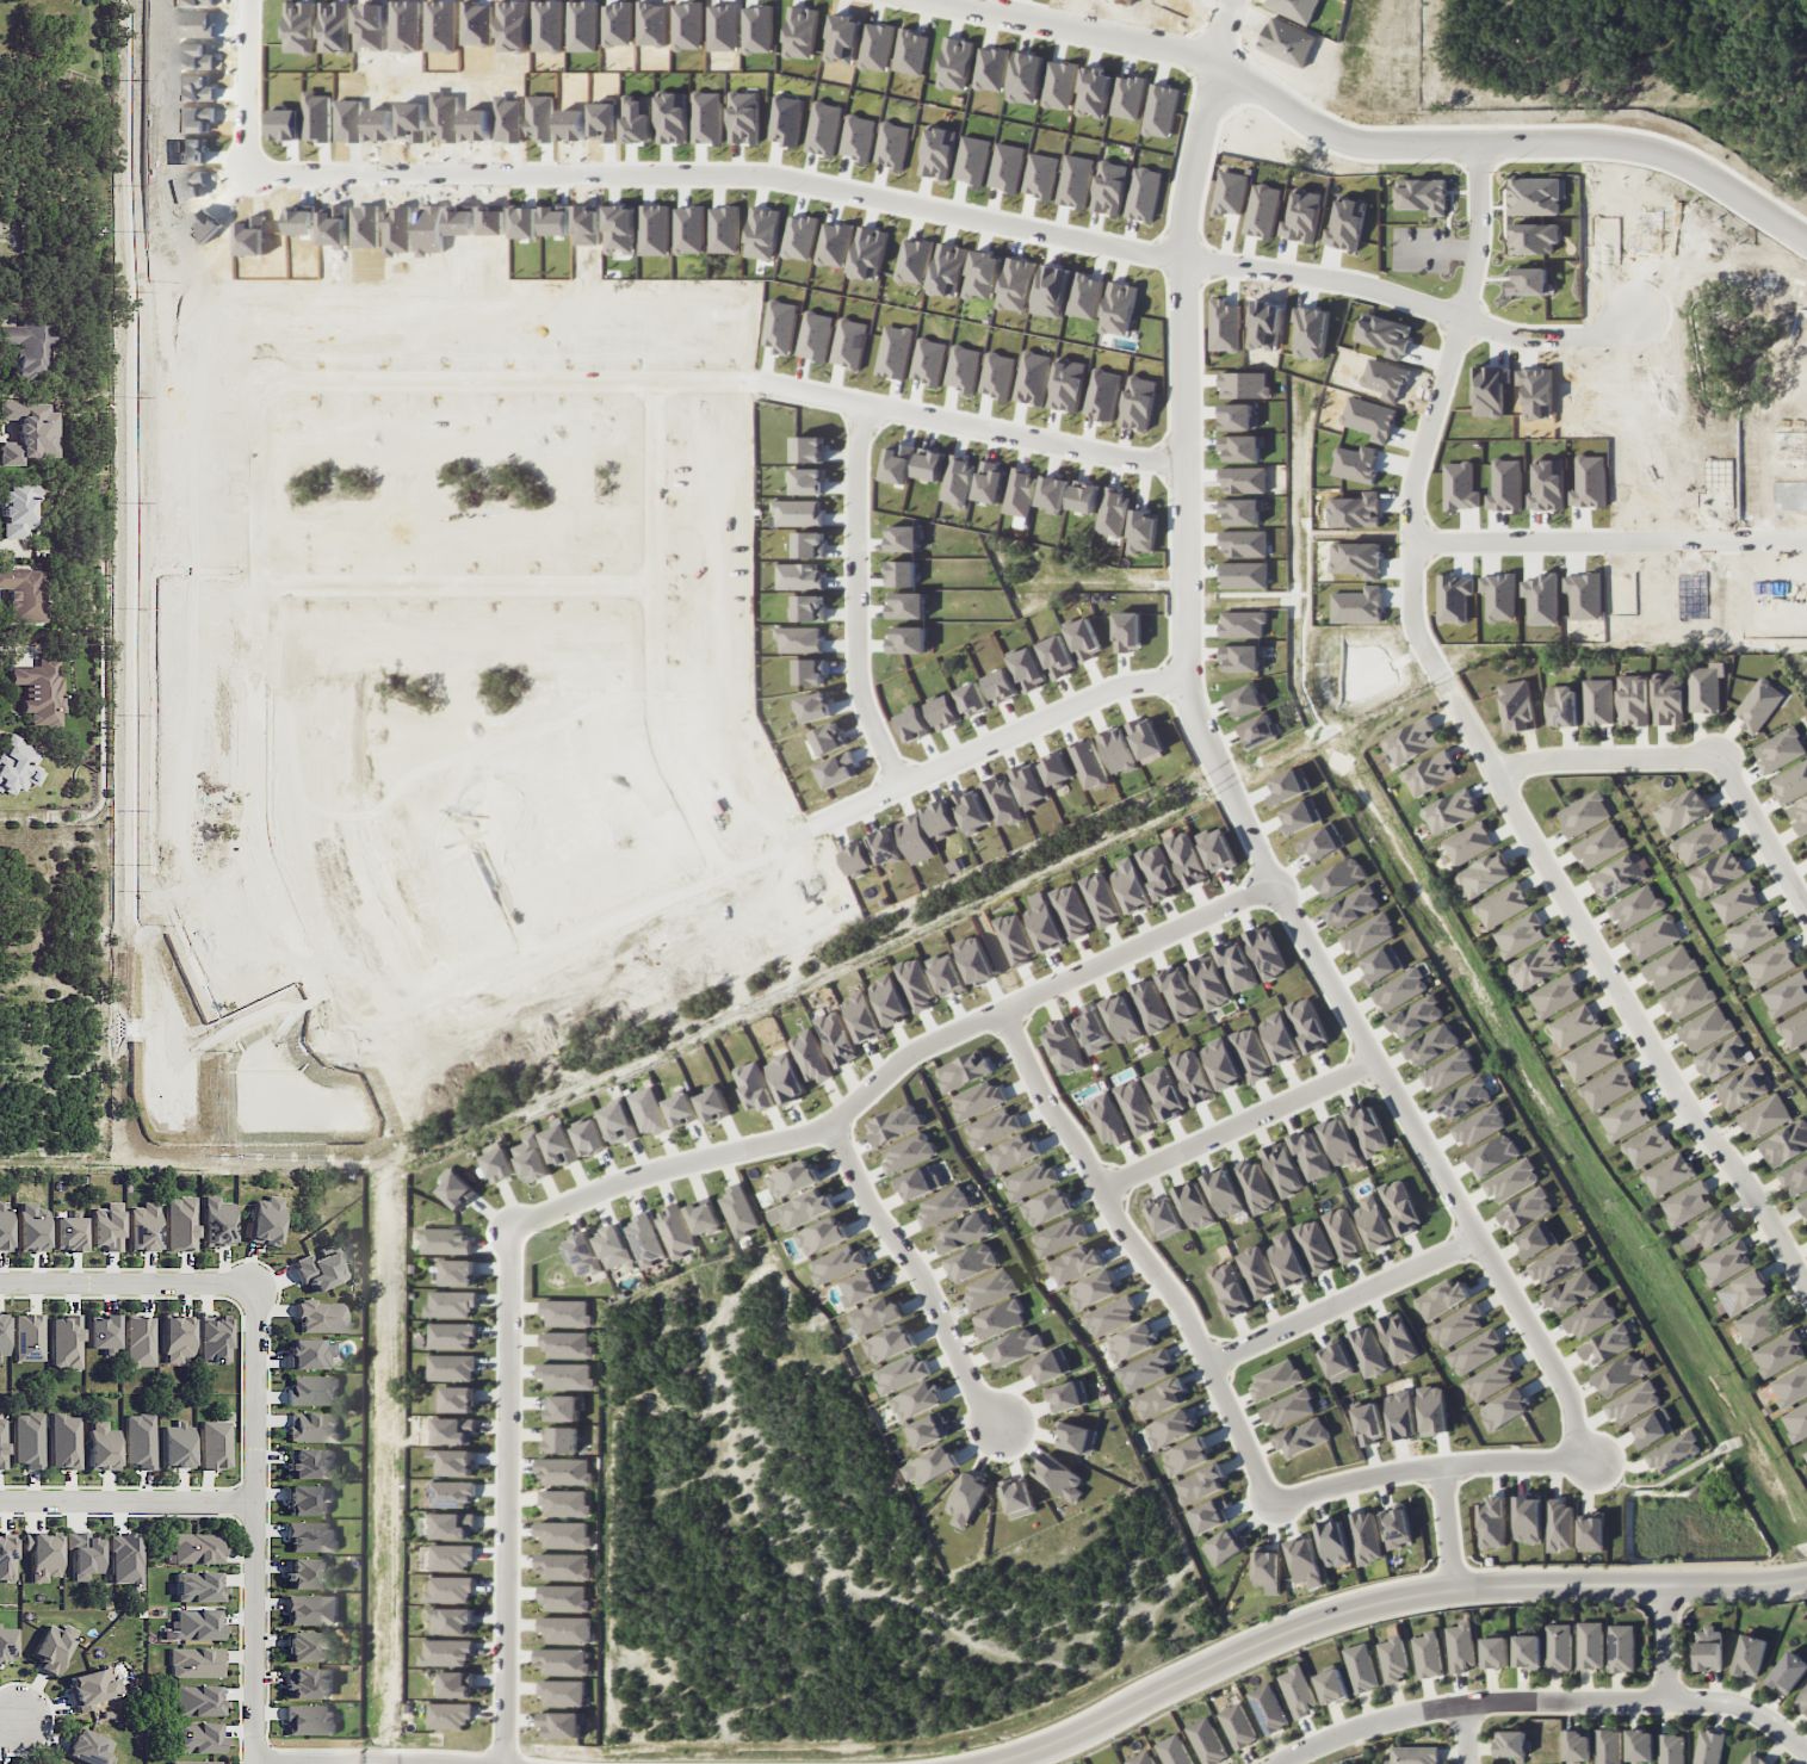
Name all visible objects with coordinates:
road: (1072, 26)
road: (1231, 42)
road: (255, 91)
road: (1517, 147)
road: (724, 175)
road: (1416, 304)
building: (30, 347)
road: (567, 379)
road: (1441, 415)
building: (30, 431)
road: (1031, 435)
road: (1187, 488)
building: (18, 509)
road: (1616, 547)
building: (24, 593)
road: (728, 596)
road: (864, 602)
road: (502, 617)
building: (1706, 687)
building: (39, 691)
building: (1667, 699)
building: (1633, 700)
building: (1598, 701)
building: (1561, 705)
building: (1759, 705)
building: (1517, 706)
road: (1052, 717)
building: (1411, 741)
building: (1778, 750)
road: (1607, 759)
building: (18, 766)
building: (1429, 773)
building: (1790, 782)
building: (1449, 811)
building: (1683, 811)
building: (1583, 813)
building: (1799, 815)
road: (1763, 830)
building: (1806, 841)
building: (1701, 842)
building: (1468, 843)
building: (1599, 846)
building: (1186, 859)
building: (1157, 871)
building: (1718, 872)
building: (1484, 874)
building: (1620, 875)
building: (1333, 878)
building: (1130, 886)
building: (1100, 898)
building: (1738, 902)
building: (1502, 904)
building: (1353, 906)
building: (1635, 906)
building: (1070, 910)
building: (1044, 927)
building: (1753, 933)
building: (1367, 934)
building: (1520, 935)
building: (1653, 936)
building: (1014, 939)
building: (1265, 952)
building: (973, 959)
building: (1771, 964)
building: (1236, 965)
building: (1379, 965)
building: (1537, 965)
building: (1670, 967)
building: (946, 974)
building: (1208, 982)
building: (915, 984)
building: (1400, 989)
road: (1619, 989)
building: (1178, 992)
building: (1787, 995)
building: (1555, 996)
building: (1688, 998)
building: (887, 999)
building: (1150, 1005)
building: (861, 1016)
building: (1416, 1016)
building: (1121, 1019)
building: (1306, 1025)
building: (1573, 1026)
building: (1093, 1028)
building: (1704, 1028)
building: (1795, 1028)
building: (836, 1038)
building: (1279, 1038)
building: (1431, 1044)
building: (1064, 1047)
building: (1250, 1053)
building: (1805, 1054)
building: (810, 1056)
building: (1590, 1057)
building: (1725, 1058)
building: (1220, 1063)
road: (896, 1064)
building: (963, 1070)
building: (1448, 1071)
building: (1192, 1076)
building: (785, 1078)
building: (754, 1087)
building: (1608, 1087)
building: (1743, 1088)
building: (1164, 1093)
building: (1465, 1098)
building: (977, 1100)
building: (713, 1104)
building: (1135, 1106)
building: (680, 1109)
building: (646, 1110)
building: (1764, 1116)
building: (1626, 1118)
building: (1107, 1119)
building: (618, 1122)
building: (895, 1124)
road: (1238, 1125)
building: (1480, 1126)
building: (991, 1127)
building: (1367, 1128)
building: (589, 1137)
building: (1338, 1141)
building: (1786, 1144)
building: (558, 1145)
building: (1646, 1145)
building: (908, 1152)
building: (1011, 1153)
building: (1310, 1155)
building: (1492, 1155)
building: (531, 1158)
building: (499, 1165)
road: (1440, 1166)
building: (1281, 1169)
building: (1669, 1174)
building: (1795, 1176)
building: (793, 1178)
building: (1029, 1180)
building: (1511, 1180)
building: (916, 1182)
building: (1254, 1184)
building: (456, 1188)
building: (1224, 1193)
building: (1687, 1203)
building: (1194, 1205)
building: (1803, 1205)
building: (943, 1206)
building: (1400, 1206)
building: (1045, 1207)
building: (806, 1208)
building: (1526, 1209)
building: (738, 1211)
building: (704, 1217)
building: (1164, 1218)
building: (265, 1220)
building: (216, 1221)
building: (1373, 1221)
building: (4, 1224)
building: (180, 1224)
building: (31, 1226)
building: (143, 1227)
building: (106, 1228)
building: (1714, 1228)
building: (675, 1231)
building: (963, 1232)
building: (68, 1233)
building: (1343, 1233)
building: (821, 1236)
building: (1058, 1236)
building: (645, 1239)
building: (445, 1240)
building: (1534, 1240)
building: (1314, 1245)
building: (613, 1246)
road: (1140, 1252)
building: (582, 1254)
building: (1287, 1261)
building: (972, 1262)
building: (1726, 1262)
building: (836, 1263)
building: (1557, 1263)
building: (1073, 1264)
building: (320, 1267)
building: (1256, 1271)
building: (458, 1273)
road: (917, 1274)
building: (859, 1288)
building: (990, 1288)
building: (1093, 1289)
building: (1230, 1289)
building: (1571, 1292)
building: (1744, 1292)
building: (1441, 1299)
road: (1345, 1300)
building: (451, 1304)
building: (565, 1313)
building: (875, 1314)
building: (321, 1316)
building: (1109, 1316)
building: (1590, 1318)
building: (1001, 1319)
building: (1759, 1323)
building: (1458, 1325)
building: (101, 1333)
building: (2, 1336)
building: (452, 1336)
building: (27, 1337)
building: (1397, 1337)
building: (175, 1338)
building: (138, 1341)
building: (212, 1341)
building: (64, 1342)
building: (1131, 1342)
building: (889, 1343)
building: (567, 1344)
building: (1607, 1345)
building: (1015, 1347)
building: (1367, 1351)
building: (1474, 1353)
building: (1778, 1353)
building: (309, 1354)
building: (1336, 1361)
building: (1046, 1366)
building: (451, 1367)
building: (1144, 1370)
building: (901, 1373)
building: (1621, 1374)
building: (565, 1375)
building: (1490, 1379)
building: (1275, 1380)
building: (1789, 1386)
building: (311, 1391)
road: (253, 1395)
building: (1066, 1395)
building: (1159, 1398)
building: (454, 1399)
building: (915, 1401)
building: (1633, 1401)
building: (562, 1407)
building: (1288, 1409)
building: (1504, 1409)
building: (1432, 1410)
building: (1796, 1421)
building: (1368, 1423)
building: (312, 1426)
building: (1652, 1428)
building: (1169, 1429)
building: (454, 1430)
building: (926, 1431)
building: (1075, 1437)
building: (1304, 1437)
building: (27, 1440)
building: (138, 1440)
building: (561, 1440)
building: (64, 1441)
building: (2, 1443)
building: (214, 1444)
building: (101, 1446)
building: (175, 1446)
building: (1673, 1452)
building: (1806, 1453)
building: (456, 1462)
building: (309, 1463)
building: (930, 1466)
road: (1423, 1468)
building: (564, 1471)
building: (1059, 1477)
building: (452, 1493)
road: (510, 1494)
road: (126, 1496)
building: (1017, 1497)
building: (309, 1499)
building: (966, 1499)
building: (565, 1503)
building: (1528, 1519)
building: (1492, 1522)
building: (1559, 1524)
building: (452, 1525)
building: (1396, 1528)
road: (1447, 1528)
building: (564, 1534)
building: (1591, 1534)
building: (310, 1536)
building: (1364, 1537)
building: (1332, 1543)
building: (1221, 1547)
building: (194, 1548)
building: (42, 1554)
building: (82, 1554)
building: (452, 1556)
building: (6, 1558)
building: (125, 1559)
building: (1305, 1561)
building: (563, 1566)
building: (1267, 1568)
building: (307, 1573)
building: (198, 1586)
building: (450, 1589)
building: (564, 1598)
road: (1381, 1601)
building: (311, 1609)
building: (452, 1620)
building: (192, 1624)
building: (565, 1629)
building: (6, 1644)
building: (1590, 1645)
road: (1666, 1645)
building: (307, 1646)
building: (1460, 1646)
building: (1558, 1647)
building: (1621, 1647)
building: (50, 1648)
building: (1708, 1648)
building: (1527, 1651)
building: (447, 1652)
building: (1493, 1653)
building: (1427, 1654)
building: (1749, 1655)
building: (1393, 1657)
building: (562, 1660)
building: (194, 1663)
building: (1360, 1667)
building: (1788, 1672)
building: (308, 1683)
building: (456, 1684)
building: (1331, 1686)
building: (92, 1688)
building: (1298, 1690)
building: (562, 1692)
building: (197, 1700)
building: (1801, 1700)
road: (1548, 1703)
building: (1267, 1708)
building: (450, 1715)
road: (5, 1717)
building: (310, 1720)
building: (559, 1723)
building: (1238, 1726)
road: (1466, 1735)
building: (196, 1738)
building: (1206, 1741)
building: (1511, 1743)
building: (1639, 1745)
building: (87, 1746)
building: (1576, 1746)
building: (1608, 1746)
building: (1708, 1747)
building: (1671, 1748)
building: (1172, 1751)
building: (1413, 1754)
building: (1141, 1758)
building: (1752, 1759)
building: (192, 1762)

